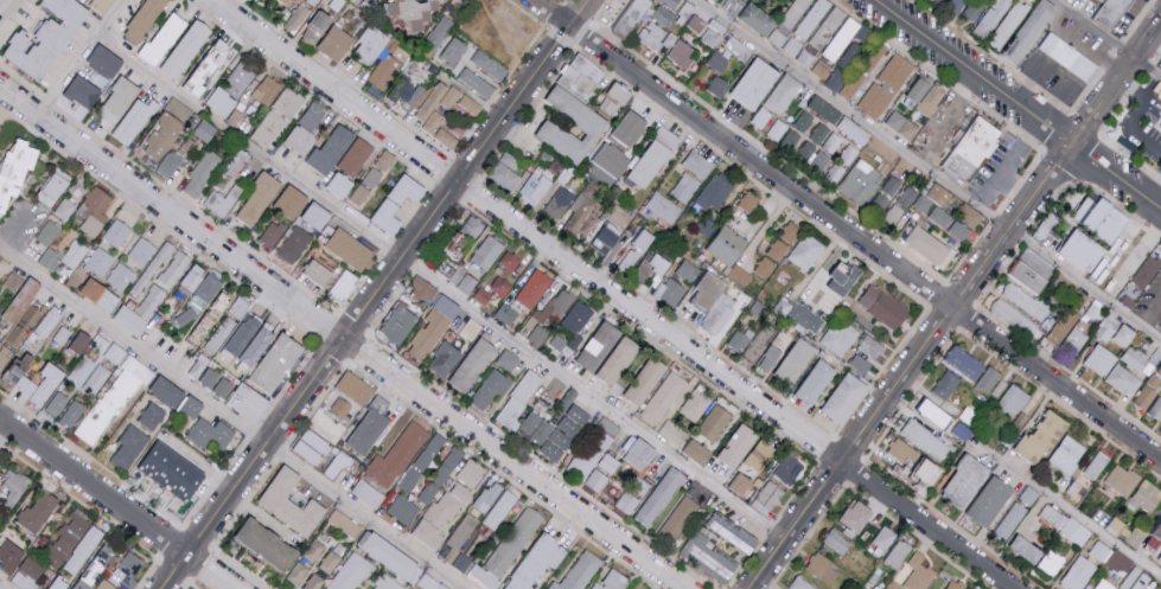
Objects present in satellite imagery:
building: (716, 0)
building: (1096, 0)
building: (288, 1)
building: (312, 2)
building: (671, 2)
building: (103, 5)
building: (962, 7)
building: (414, 12)
building: (1110, 12)
building: (299, 14)
building: (663, 15)
building: (145, 18)
building: (758, 18)
building: (811, 18)
building: (989, 18)
building: (324, 20)
building: (633, 20)
building: (1006, 23)
building: (707, 28)
building: (789, 28)
building: (439, 31)
building: (1025, 32)
building: (313, 34)
building: (821, 34)
building: (655, 36)
road: (1060, 36)
building: (47, 37)
building: (165, 38)
building: (841, 38)
road: (1106, 38)
building: (337, 43)
building: (187, 47)
building: (739, 47)
building: (370, 51)
building: (454, 51)
road: (1080, 51)
building: (682, 52)
road: (1087, 52)
road: (78, 57)
building: (1068, 58)
building: (107, 60)
building: (717, 62)
building: (490, 64)
building: (388, 65)
building: (210, 66)
building: (822, 66)
building: (861, 73)
building: (241, 77)
building: (582, 81)
road: (1032, 81)
building: (755, 82)
building: (476, 83)
building: (717, 85)
building: (885, 85)
building: (1156, 89)
building: (84, 91)
building: (409, 92)
building: (783, 92)
building: (262, 95)
building: (926, 95)
road: (1052, 95)
building: (120, 100)
building: (223, 101)
building: (288, 102)
building: (470, 104)
building: (614, 104)
road: (1016, 104)
building: (429, 107)
building: (179, 108)
building: (824, 109)
building: (313, 115)
building: (759, 117)
building: (135, 120)
road: (1128, 122)
building: (594, 124)
building: (902, 124)
building: (1159, 124)
road: (7, 126)
building: (632, 127)
road: (493, 128)
building: (268, 129)
building: (206, 130)
building: (776, 130)
building: (853, 130)
building: (803, 136)
building: (446, 137)
building: (160, 139)
building: (301, 139)
building: (833, 141)
building: (976, 143)
building: (186, 147)
road: (245, 147)
building: (332, 148)
building: (356, 156)
building: (655, 158)
building: (612, 160)
building: (818, 160)
road: (1006, 162)
building: (170, 164)
building: (957, 167)
building: (15, 169)
building: (505, 171)
road: (926, 171)
building: (202, 173)
building: (372, 177)
building: (690, 177)
building: (859, 181)
building: (342, 185)
building: (891, 185)
road: (1014, 186)
building: (53, 187)
building: (534, 187)
building: (408, 188)
building: (714, 192)
road: (1155, 193)
building: (906, 196)
building: (260, 198)
building: (222, 200)
building: (292, 200)
building: (749, 201)
building: (879, 201)
building: (934, 204)
building: (556, 206)
building: (663, 207)
building: (64, 209)
building: (586, 210)
building: (95, 211)
building: (892, 213)
building: (318, 215)
building: (389, 216)
building: (619, 216)
building: (1098, 218)
building: (1042, 225)
road: (847, 229)
building: (958, 231)
building: (47, 232)
building: (116, 232)
building: (272, 233)
building: (464, 236)
building: (607, 239)
building: (295, 244)
building: (929, 244)
building: (728, 245)
building: (352, 249)
building: (778, 249)
building: (141, 250)
building: (636, 250)
building: (1078, 251)
building: (486, 252)
building: (806, 252)
building: (63, 257)
building: (100, 262)
building: (509, 262)
building: (659, 263)
building: (174, 268)
building: (1025, 269)
building: (688, 270)
building: (1143, 270)
building: (319, 271)
building: (739, 273)
building: (120, 276)
building: (844, 279)
building: (465, 280)
building: (13, 281)
building: (202, 283)
building: (344, 284)
building: (500, 286)
building: (534, 288)
building: (422, 289)
building: (670, 292)
building: (102, 294)
road: (612, 294)
building: (481, 295)
building: (1022, 300)
building: (151, 301)
building: (492, 301)
building: (714, 302)
building: (223, 305)
road: (953, 305)
building: (883, 306)
building: (240, 308)
building: (23, 312)
building: (506, 313)
road: (1150, 313)
building: (1008, 314)
building: (578, 315)
building: (805, 316)
building: (544, 318)
building: (132, 320)
building: (45, 324)
building: (400, 324)
building: (1106, 324)
building: (434, 327)
building: (471, 328)
building: (1160, 331)
building: (1066, 332)
building: (62, 334)
road: (342, 337)
building: (739, 339)
building: (81, 341)
building: (97, 342)
building: (562, 344)
building: (870, 347)
building: (254, 352)
building: (608, 352)
building: (115, 353)
building: (4, 356)
building: (227, 357)
building: (1130, 357)
building: (771, 358)
building: (1093, 358)
building: (445, 359)
building: (508, 360)
building: (956, 360)
building: (796, 361)
building: (1153, 361)
building: (860, 364)
building: (473, 365)
building: (199, 366)
building: (274, 366)
building: (14, 377)
building: (96, 378)
building: (1119, 378)
building: (645, 380)
building: (208, 382)
building: (817, 382)
building: (989, 382)
building: (942, 384)
building: (491, 388)
building: (222, 391)
building: (355, 391)
building: (164, 395)
building: (1141, 396)
building: (665, 397)
building: (114, 398)
building: (518, 398)
road: (591, 398)
building: (847, 398)
building: (1009, 398)
building: (56, 403)
building: (381, 403)
building: (695, 404)
building: (1154, 408)
building: (249, 409)
building: (189, 411)
building: (72, 412)
building: (340, 412)
building: (929, 412)
building: (151, 418)
building: (1018, 420)
road: (232, 421)
road: (279, 422)
building: (715, 422)
building: (1160, 424)
building: (328, 427)
building: (958, 429)
building: (672, 431)
building: (368, 434)
building: (1036, 435)
building: (210, 436)
building: (919, 437)
building: (438, 444)
building: (739, 444)
building: (312, 447)
building: (129, 448)
building: (594, 448)
building: (698, 452)
building: (1063, 453)
building: (640, 454)
building: (759, 454)
building: (400, 456)
building: (906, 457)
building: (457, 459)
building: (0, 462)
building: (426, 462)
building: (1093, 462)
building: (786, 469)
building: (173, 470)
building: (602, 473)
building: (474, 474)
building: (445, 475)
building: (1117, 478)
building: (412, 480)
building: (958, 481)
building: (740, 484)
building: (13, 488)
building: (370, 494)
building: (430, 494)
building: (463, 494)
building: (768, 494)
building: (1142, 494)
building: (486, 495)
building: (661, 495)
building: (982, 500)
building: (292, 502)
building: (626, 502)
road: (116, 505)
building: (402, 510)
building: (40, 511)
building: (446, 511)
building: (504, 511)
building: (1014, 512)
road: (1071, 512)
building: (848, 516)
building: (1063, 523)
building: (347, 524)
building: (676, 524)
building: (1116, 526)
building: (465, 533)
building: (1146, 533)
building: (738, 534)
building: (69, 538)
building: (833, 540)
building: (879, 540)
building: (517, 543)
building: (269, 544)
building: (317, 545)
building: (1018, 548)
building: (84, 549)
building: (1098, 550)
building: (894, 552)
building: (389, 555)
building: (11, 556)
building: (108, 556)
building: (453, 557)
building: (709, 557)
building: (1047, 561)
building: (330, 562)
building: (540, 563)
building: (1116, 563)
building: (465, 564)
building: (819, 568)
building: (128, 569)
building: (912, 571)
building: (298, 572)
building: (350, 572)
building: (583, 572)
building: (1076, 572)
building: (27, 574)
building: (485, 578)
building: (1134, 578)
building: (617, 581)
building: (313, 582)
building: (60, 583)
building: (387, 583)
building: (429, 583)
building: (797, 583)
building: (83, 584)
building: (106, 584)
building: (951, 584)
building: (1103, 584)
road: (1, 587)
building: (600, 587)
building: (633, 588)

